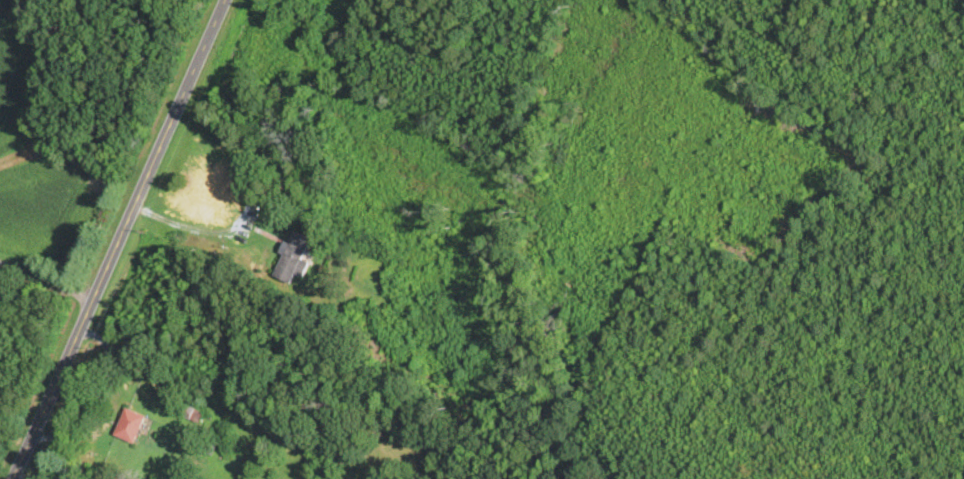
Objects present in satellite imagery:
building: (220, 179)
road: (201, 230)
road: (120, 240)
building: (292, 258)
road: (47, 283)
building: (128, 425)

